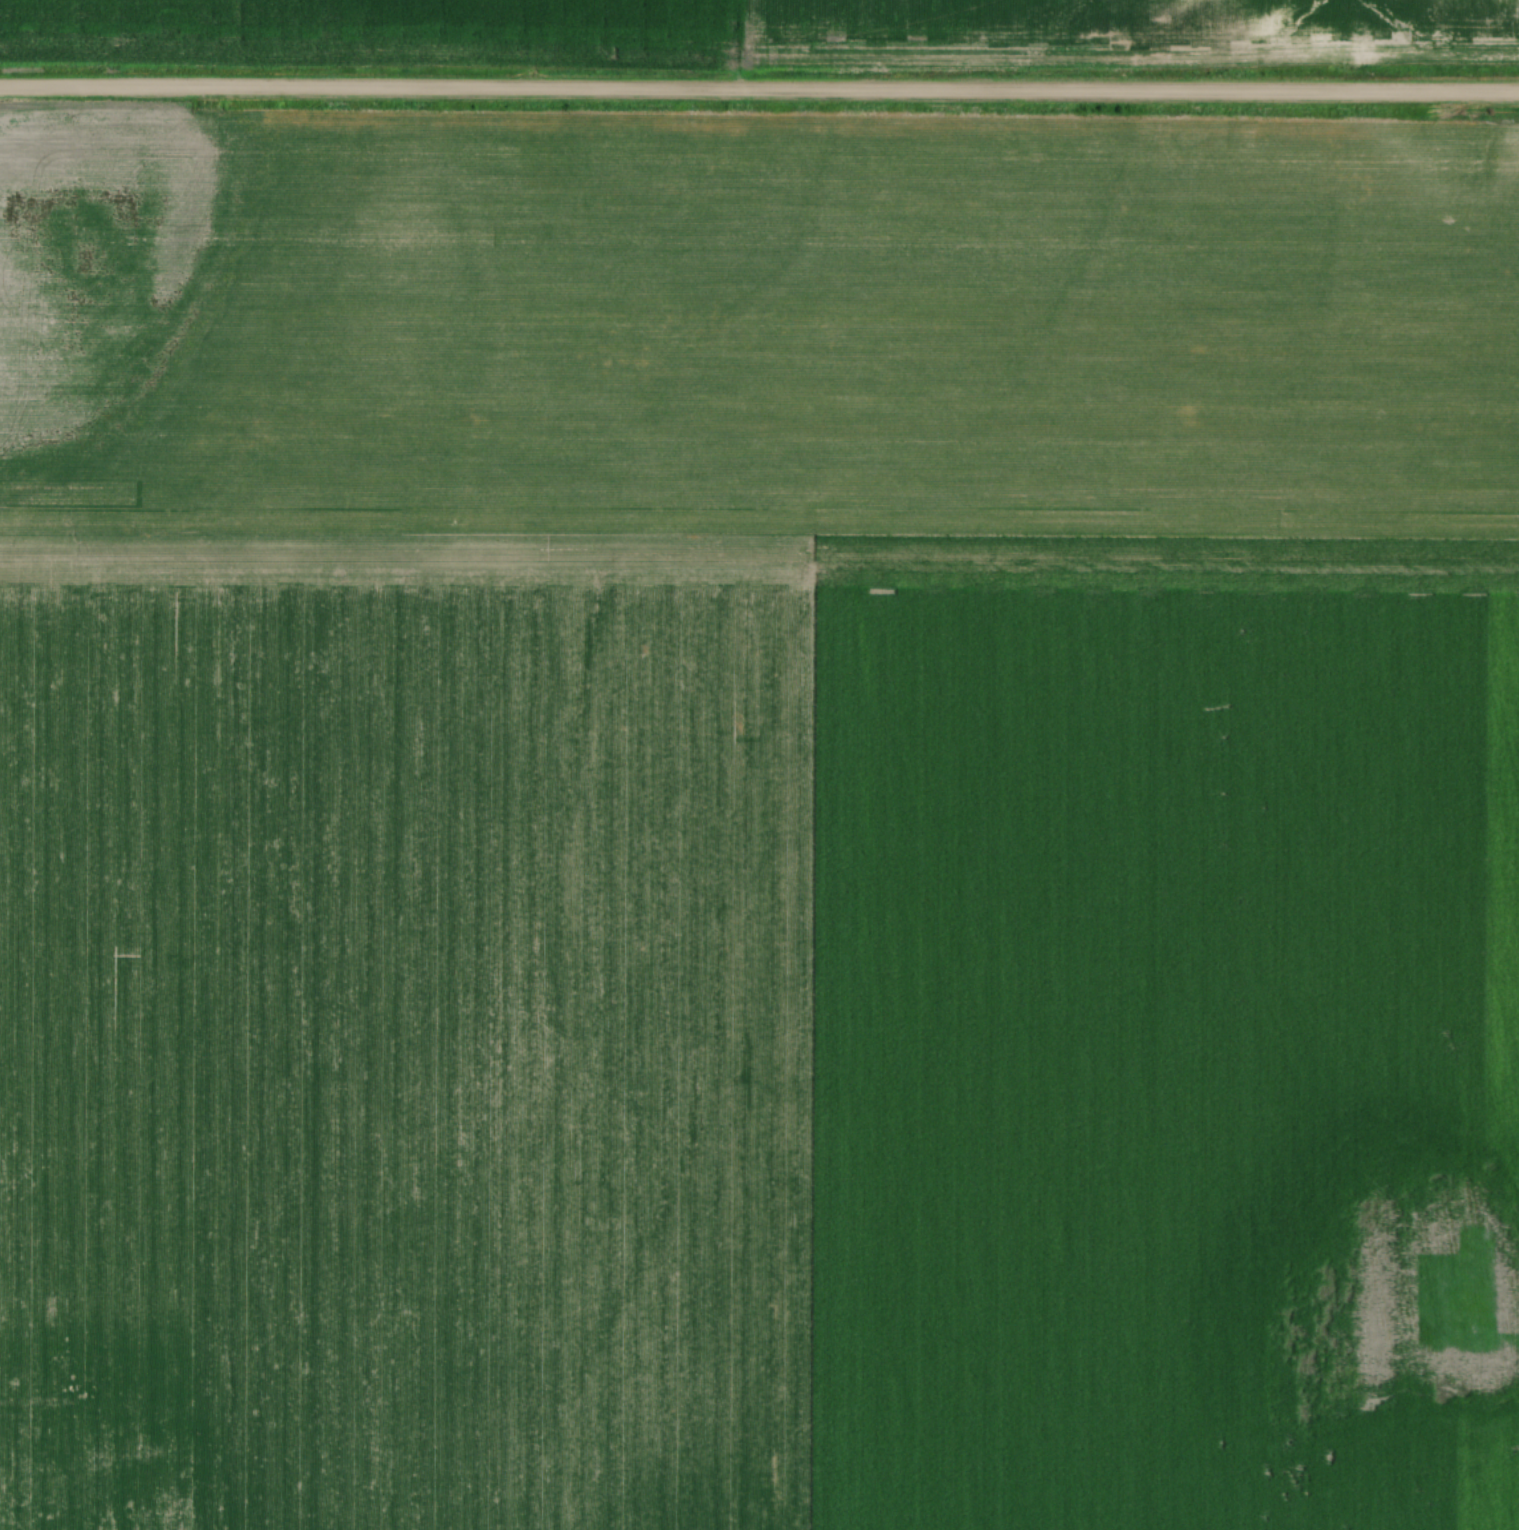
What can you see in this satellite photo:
road: (759, 93)

